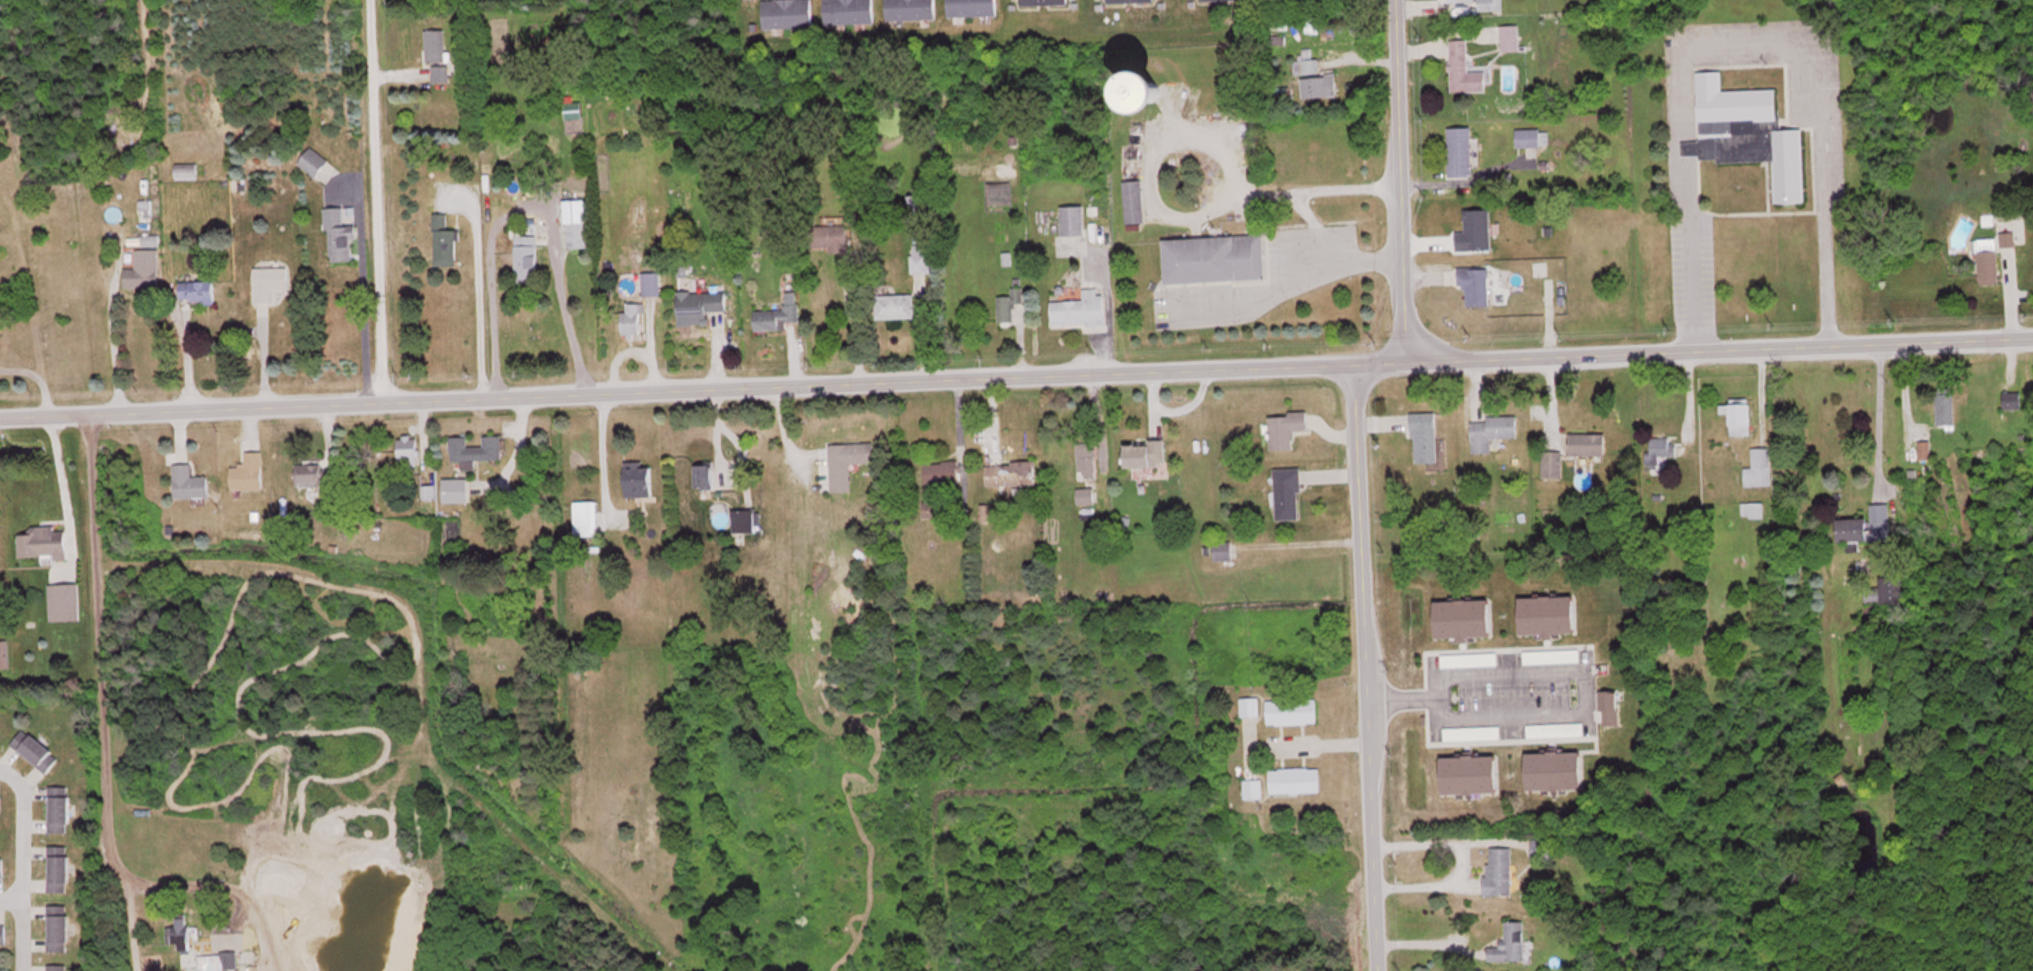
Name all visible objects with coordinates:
building: (1458, 0)
building: (1043, 2)
building: (1130, 2)
building: (1490, 4)
building: (972, 7)
building: (911, 9)
building: (849, 11)
building: (787, 13)
building: (436, 53)
building: (1308, 65)
building: (1464, 69)
building: (1319, 85)
water tower: (1159, 92)
building: (1158, 95)
building: (1746, 133)
building: (1532, 137)
building: (1460, 151)
building: (312, 161)
road: (1396, 180)
road: (376, 199)
building: (1134, 205)
building: (917, 209)
building: (1072, 220)
building: (576, 223)
building: (338, 235)
building: (827, 237)
building: (444, 242)
building: (1992, 256)
building: (526, 258)
building: (921, 258)
building: (1214, 258)
building: (140, 277)
building: (268, 282)
building: (651, 283)
building: (1476, 285)
building: (196, 293)
building: (1009, 303)
building: (699, 305)
building: (894, 306)
building: (1080, 309)
building: (778, 314)
building: (632, 319)
road: (1016, 373)
building: (2017, 400)
building: (1945, 406)
building: (1738, 417)
building: (1286, 428)
building: (1492, 430)
building: (1424, 436)
building: (1587, 443)
building: (1661, 447)
building: (407, 448)
building: (475, 448)
building: (1924, 452)
building: (1145, 453)
building: (1086, 458)
building: (846, 461)
building: (1551, 462)
building: (1759, 467)
building: (248, 471)
building: (941, 471)
building: (316, 473)
building: (1010, 473)
building: (704, 475)
building: (638, 479)
building: (189, 482)
building: (455, 489)
building: (1287, 492)
road: (930, 498)
building: (1752, 508)
building: (585, 517)
building: (1866, 525)
building: (42, 541)
building: (1222, 550)
building: (1886, 591)
building: (64, 600)
building: (1548, 613)
building: (1463, 617)
road: (1359, 666)
road: (1560, 668)
road: (102, 690)
building: (1249, 706)
building: (1609, 706)
building: (1292, 710)
building: (34, 748)
building: (1554, 769)
building: (1470, 773)
building: (1295, 779)
building: (1252, 787)
building: (58, 807)
road: (10, 847)
building: (1541, 847)
road: (1457, 857)
building: (1, 865)
building: (57, 867)
road: (19, 868)
building: (1499, 870)
road: (9, 899)
building: (57, 927)
building: (180, 932)
building: (2, 935)
building: (1509, 942)
building: (228, 960)
building: (57, 967)

